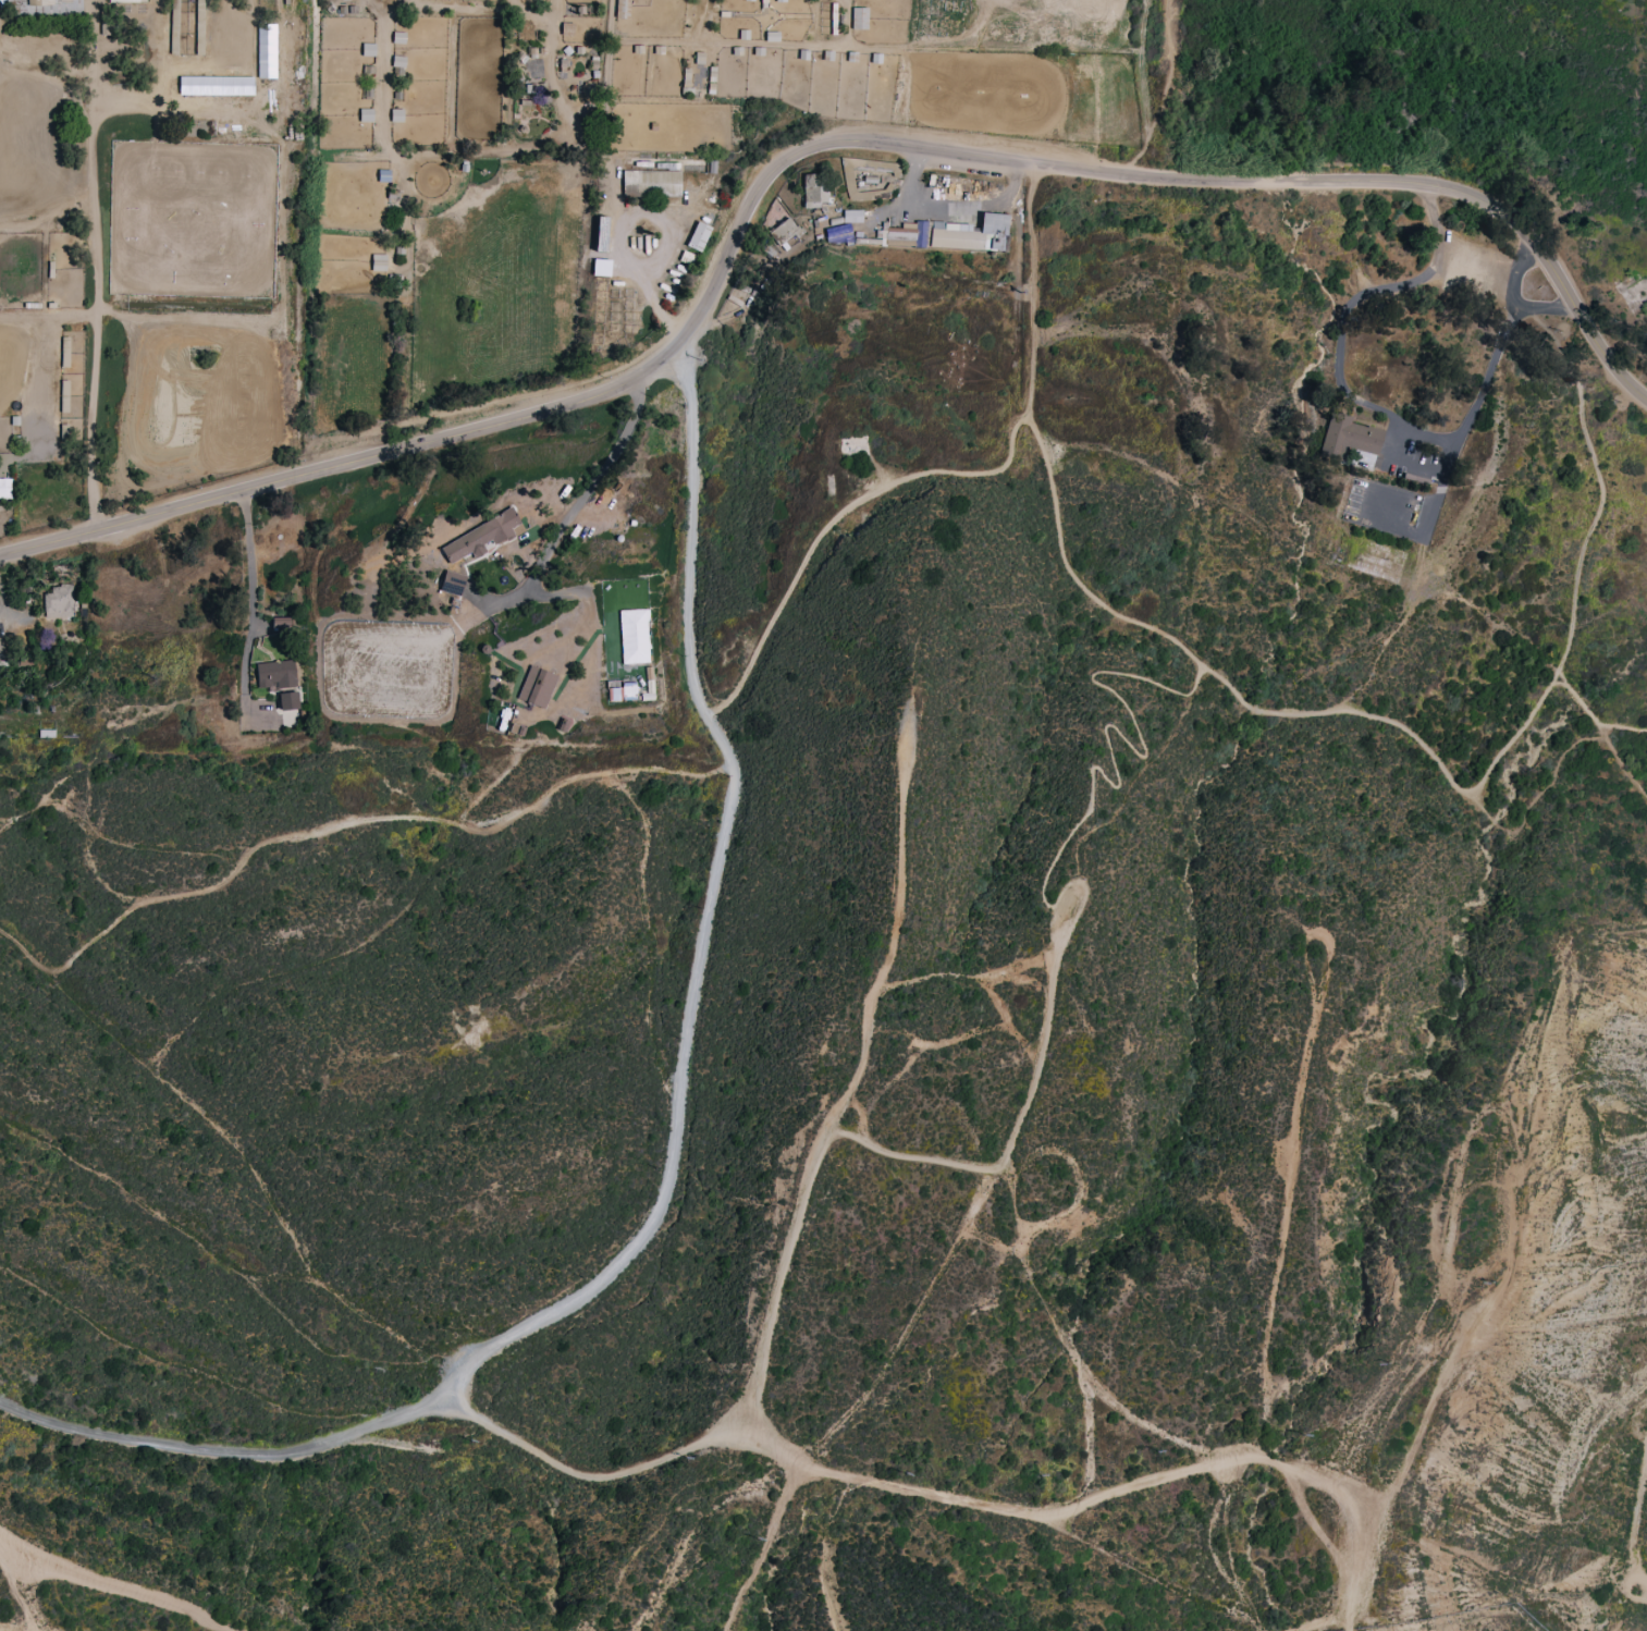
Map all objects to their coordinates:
building: (126, 0)
building: (622, 9)
building: (859, 17)
building: (176, 30)
road: (90, 138)
road: (799, 150)
building: (652, 182)
building: (814, 189)
road: (946, 210)
building: (852, 216)
building: (788, 233)
building: (950, 234)
building: (698, 236)
building: (379, 261)
road: (1515, 274)
road: (642, 278)
road: (1033, 293)
road: (1354, 303)
road: (1498, 347)
road: (93, 378)
building: (1350, 439)
road: (1404, 457)
building: (5, 487)
road: (1600, 489)
road: (576, 502)
road: (852, 510)
building: (482, 538)
building: (453, 582)
road: (1092, 594)
road: (249, 597)
building: (59, 601)
building: (635, 636)
building: (275, 674)
building: (537, 686)
building: (629, 690)
building: (288, 700)
road: (1595, 716)
road: (1140, 736)
road: (1459, 785)
road: (345, 824)
road: (668, 1146)
road: (794, 1218)
road: (222, 1258)
road: (1096, 1499)
road: (1633, 1520)
road: (765, 1548)
road: (113, 1584)
road: (15, 1590)
road: (1322, 1623)
road: (1349, 1623)

